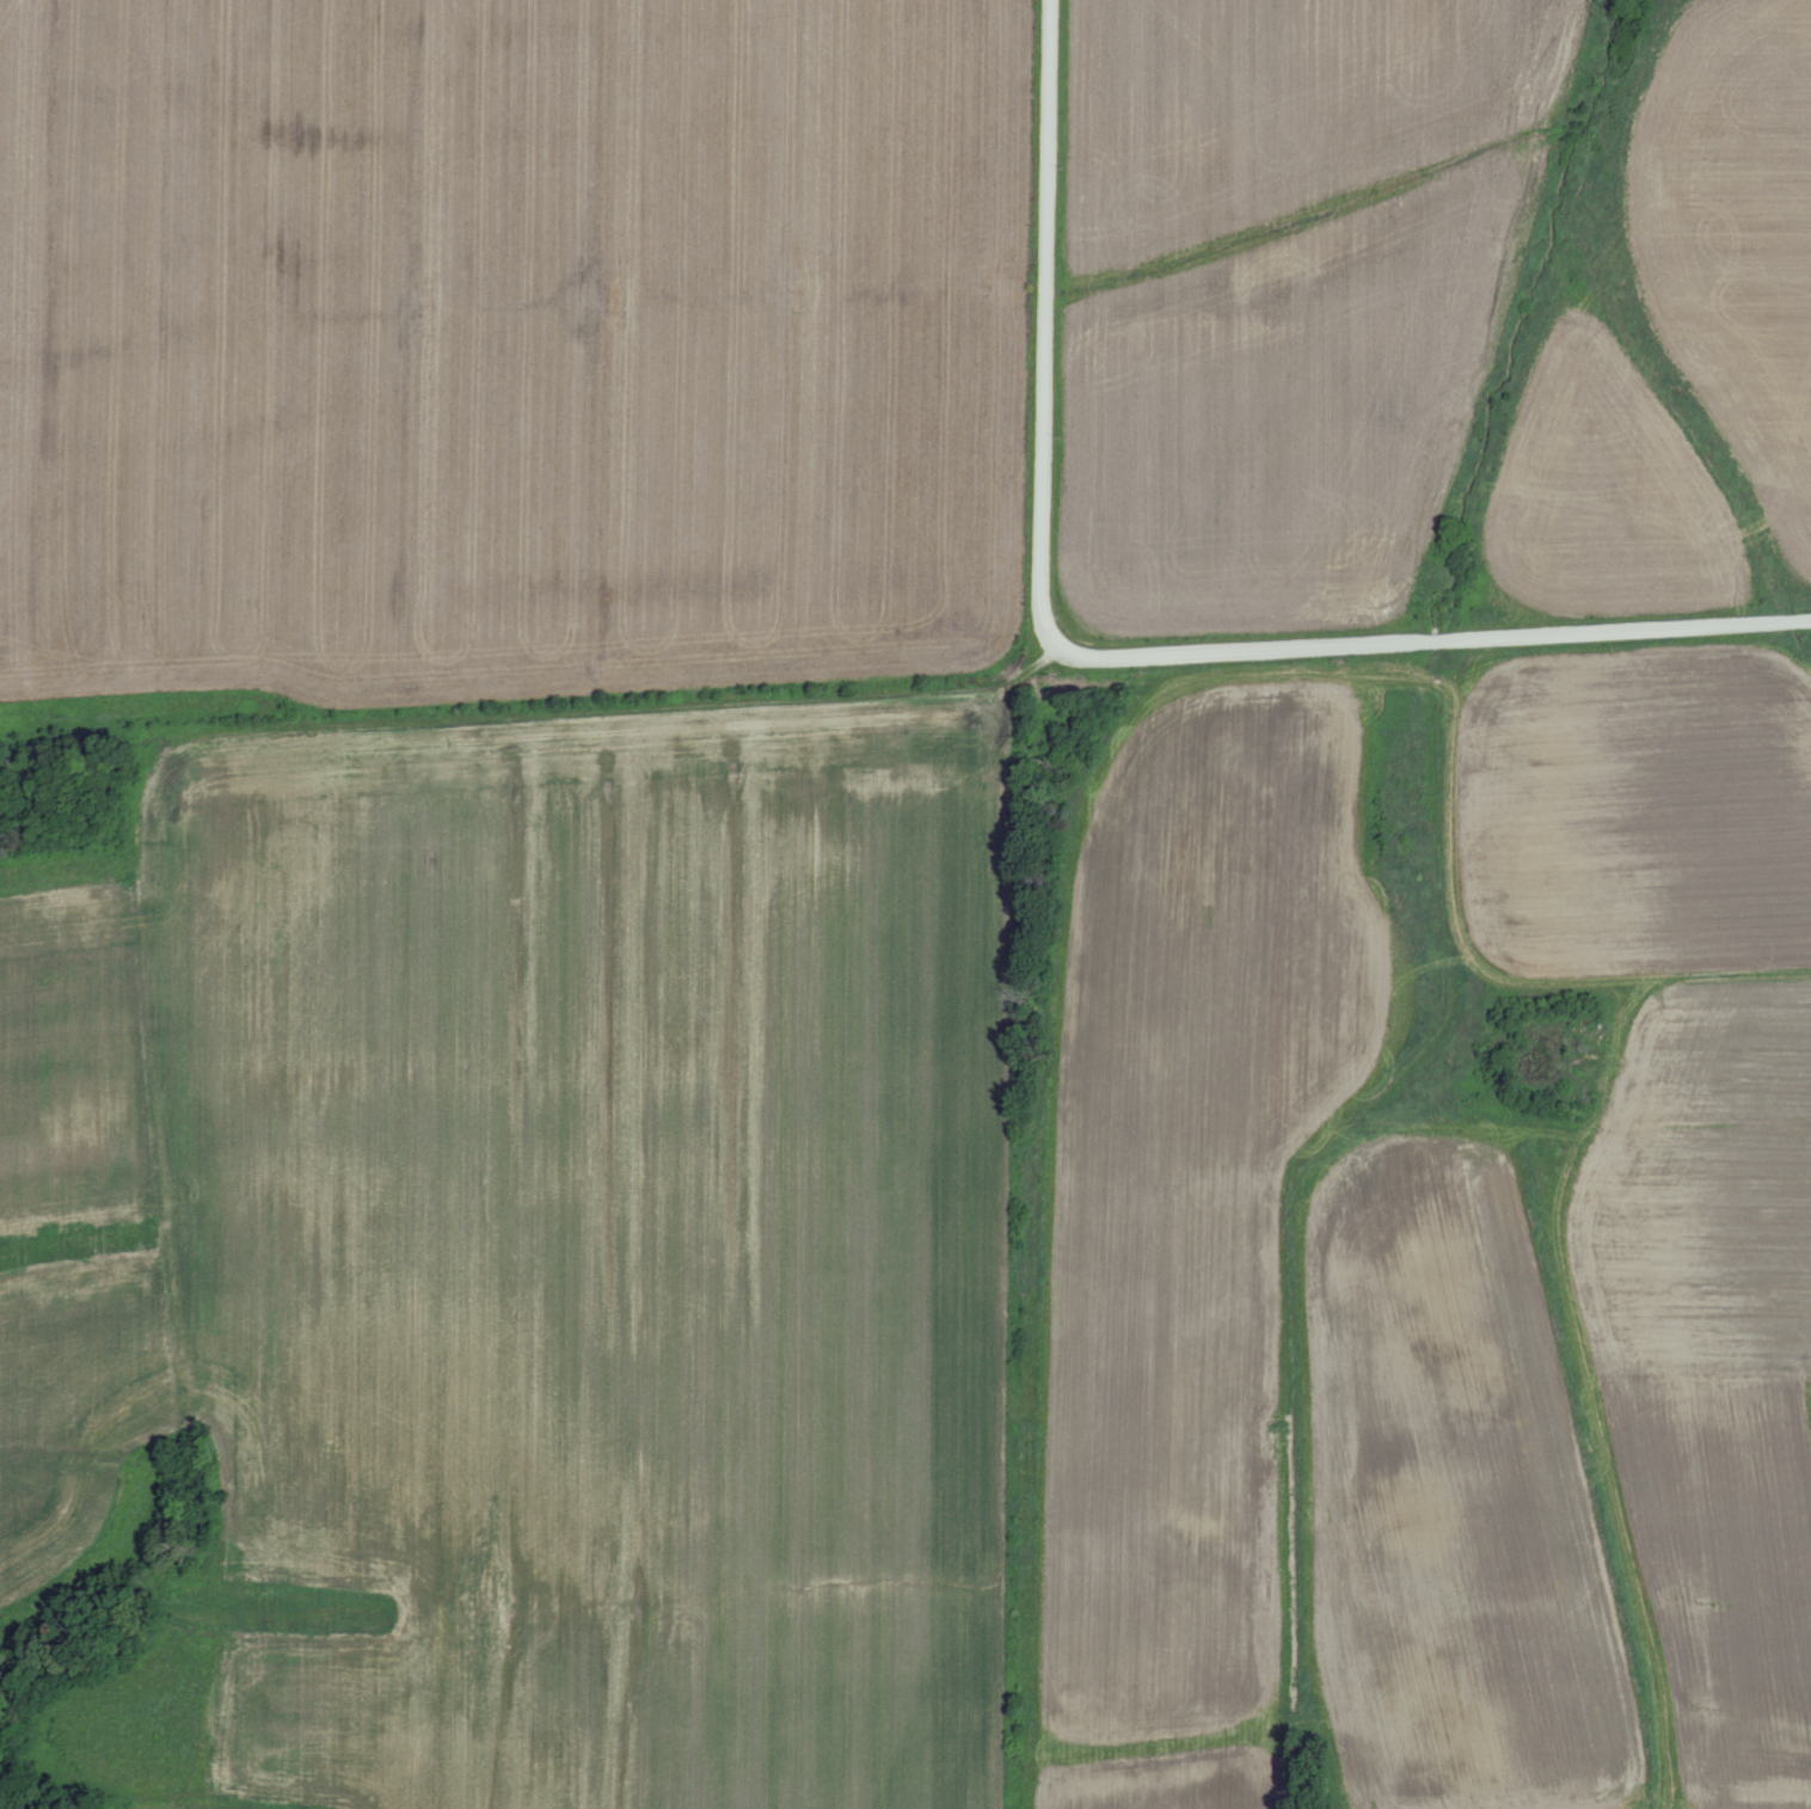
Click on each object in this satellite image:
road: (1106, 662)
building: (1073, 722)

